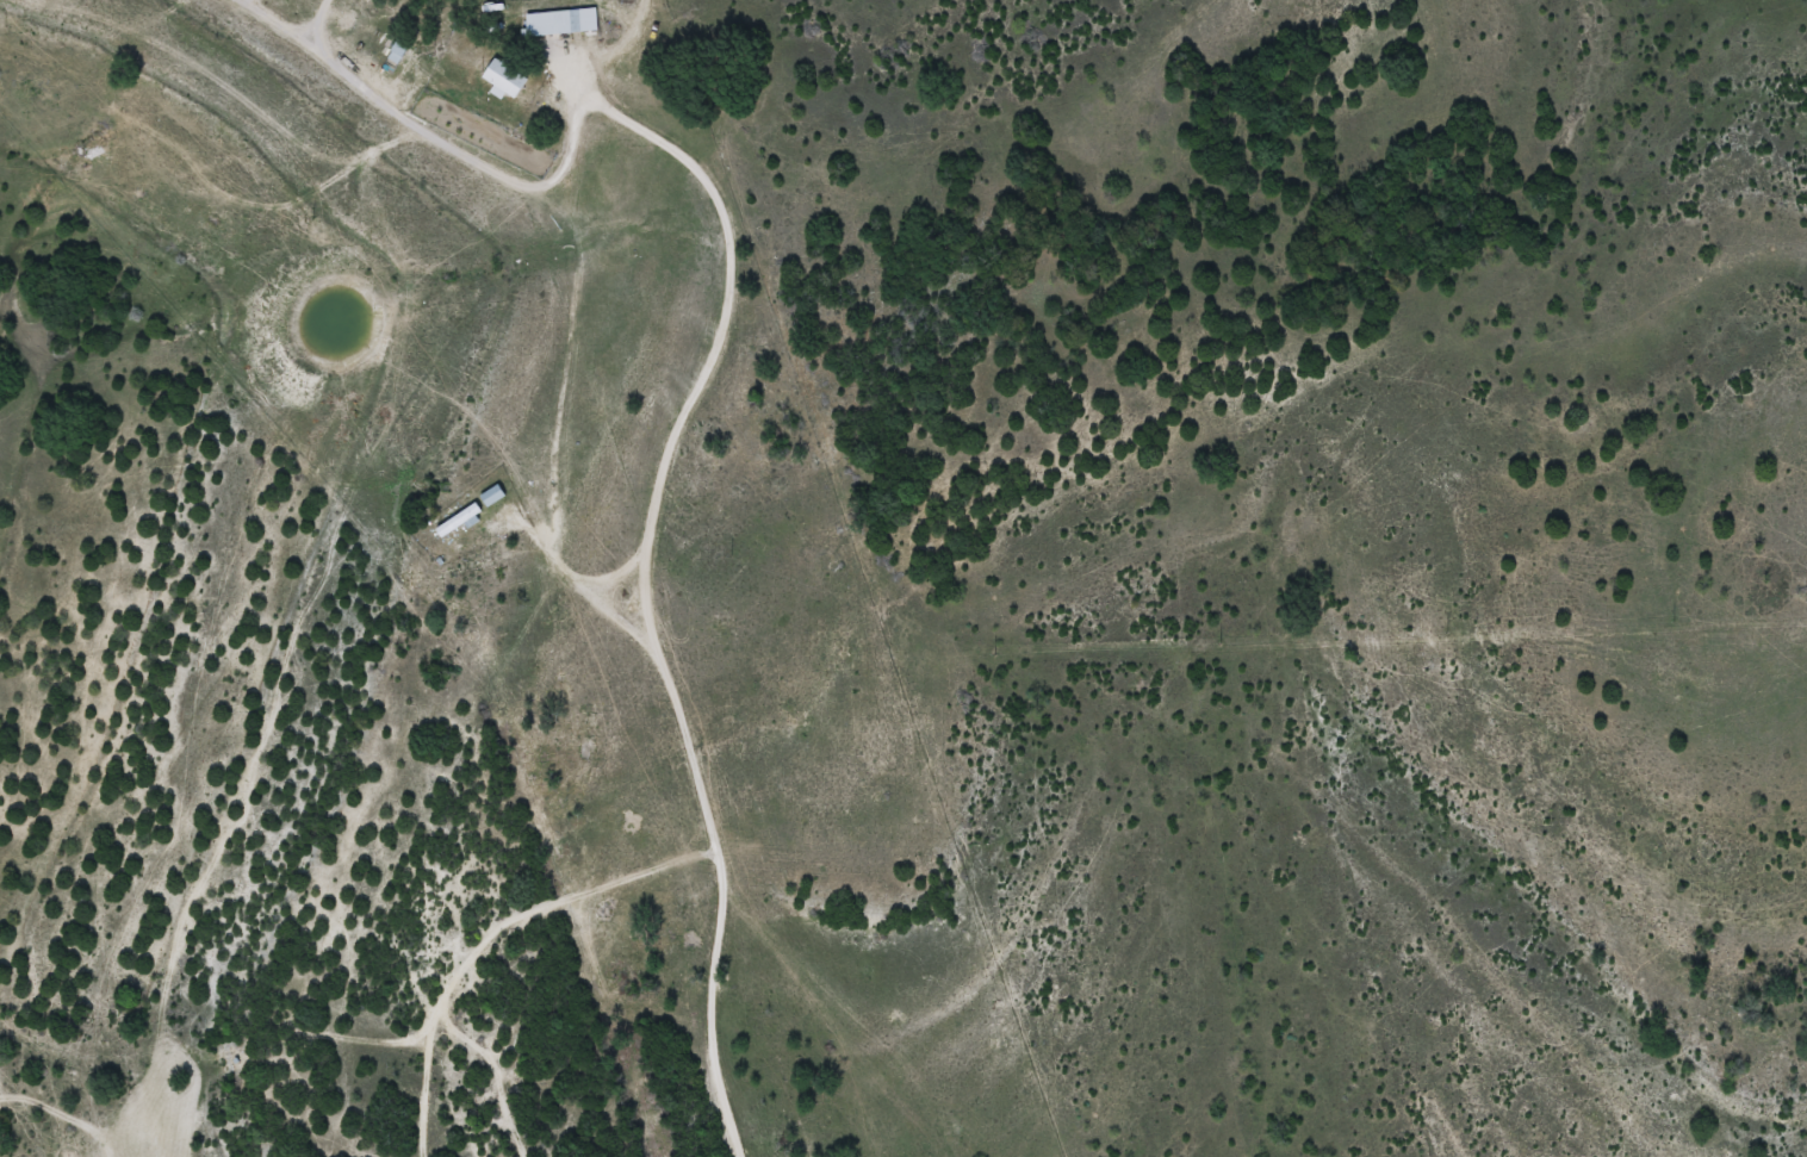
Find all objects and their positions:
building: (549, 23)
building: (395, 51)
building: (501, 76)
road: (796, 531)

